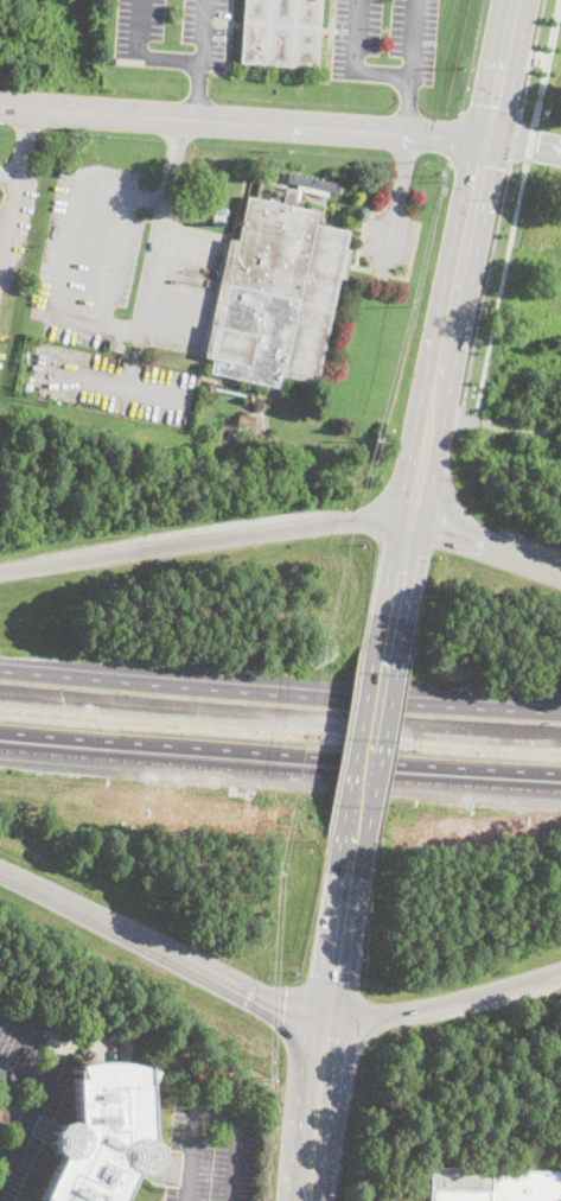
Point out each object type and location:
road: (200, 31)
parking lot: (172, 32)
building: (281, 33)
parking lot: (385, 39)
road: (533, 56)
road: (139, 57)
road: (547, 63)
street lamp: (555, 63)
road: (353, 64)
road: (410, 66)
road: (486, 70)
road: (512, 74)
road: (197, 90)
traffic signals: (480, 107)
road: (492, 113)
street lamp: (543, 117)
road: (242, 122)
traffic signals: (453, 136)
road: (458, 136)
road: (515, 138)
road: (530, 142)
road: (522, 144)
traffic signals: (538, 145)
road: (482, 159)
traffic signals: (480, 163)
road: (8, 177)
road: (17, 177)
building: (312, 184)
road: (396, 201)
parking lot: (15, 222)
road: (111, 258)
parking lot: (122, 263)
park: (527, 287)
road: (499, 288)
road: (484, 290)
building: (276, 294)
road: (91, 322)
road: (448, 331)
building: (115, 347)
road: (132, 362)
parking lot: (111, 382)
building: (27, 386)
building: (210, 386)
road: (104, 388)
building: (251, 395)
road: (457, 415)
building: (247, 419)
road: (521, 426)
traffic signals: (416, 501)
traffic signals: (441, 525)
road: (205, 539)
road: (487, 541)
road: (402, 568)
traffic signals: (403, 568)
road: (280, 698)
road: (372, 735)
road: (280, 764)
road: (339, 935)
road: (162, 948)
traffic signals: (333, 977)
road: (445, 1002)
traffic signals: (285, 1008)
traffic signals: (325, 1037)
road: (23, 1078)
parking lot: (31, 1079)
road: (46, 1085)
road: (315, 1108)
road: (208, 1113)
building: (104, 1136)
parking lot: (212, 1148)
road: (7, 1155)
building: (493, 1184)

